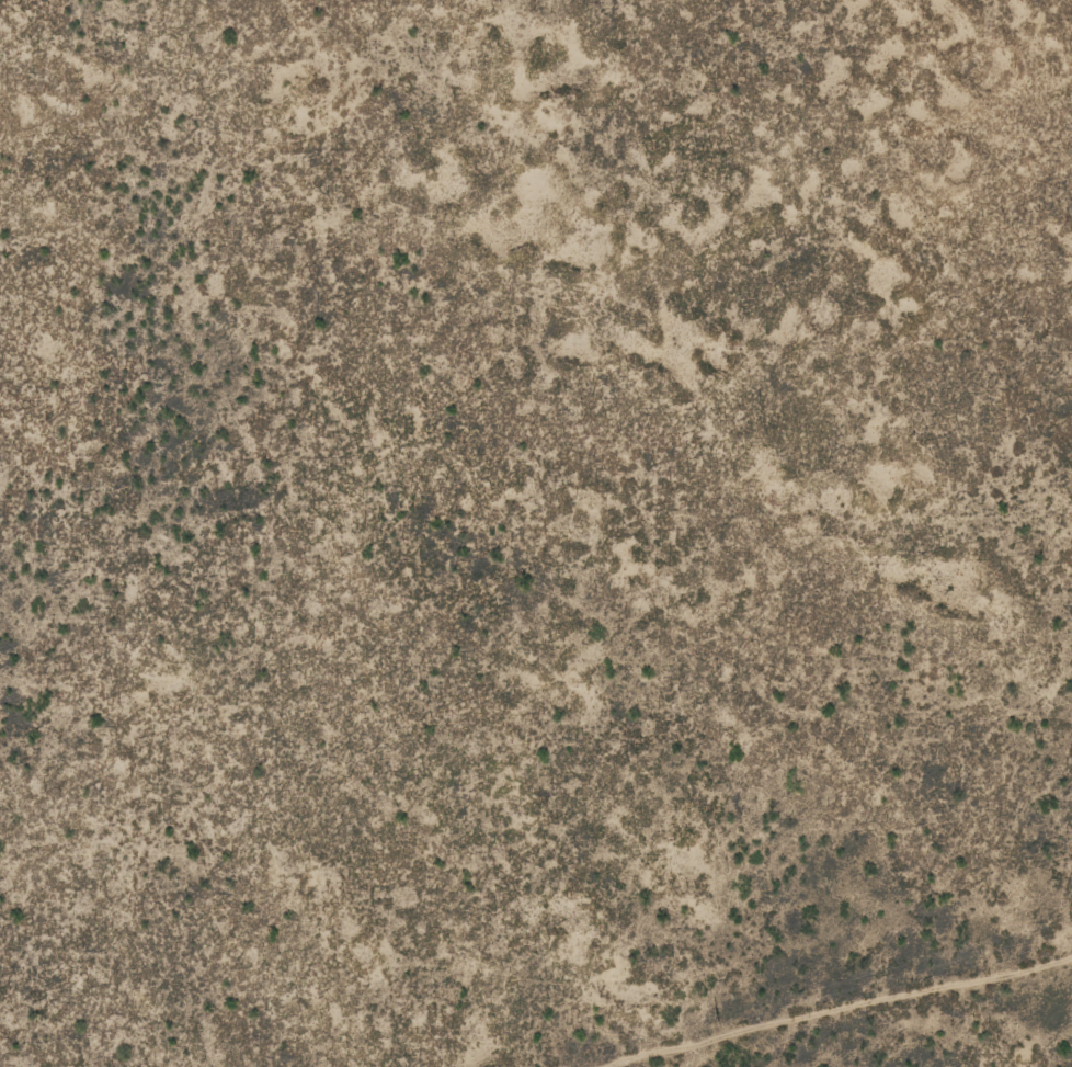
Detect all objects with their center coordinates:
power tower: (719, 1026)

